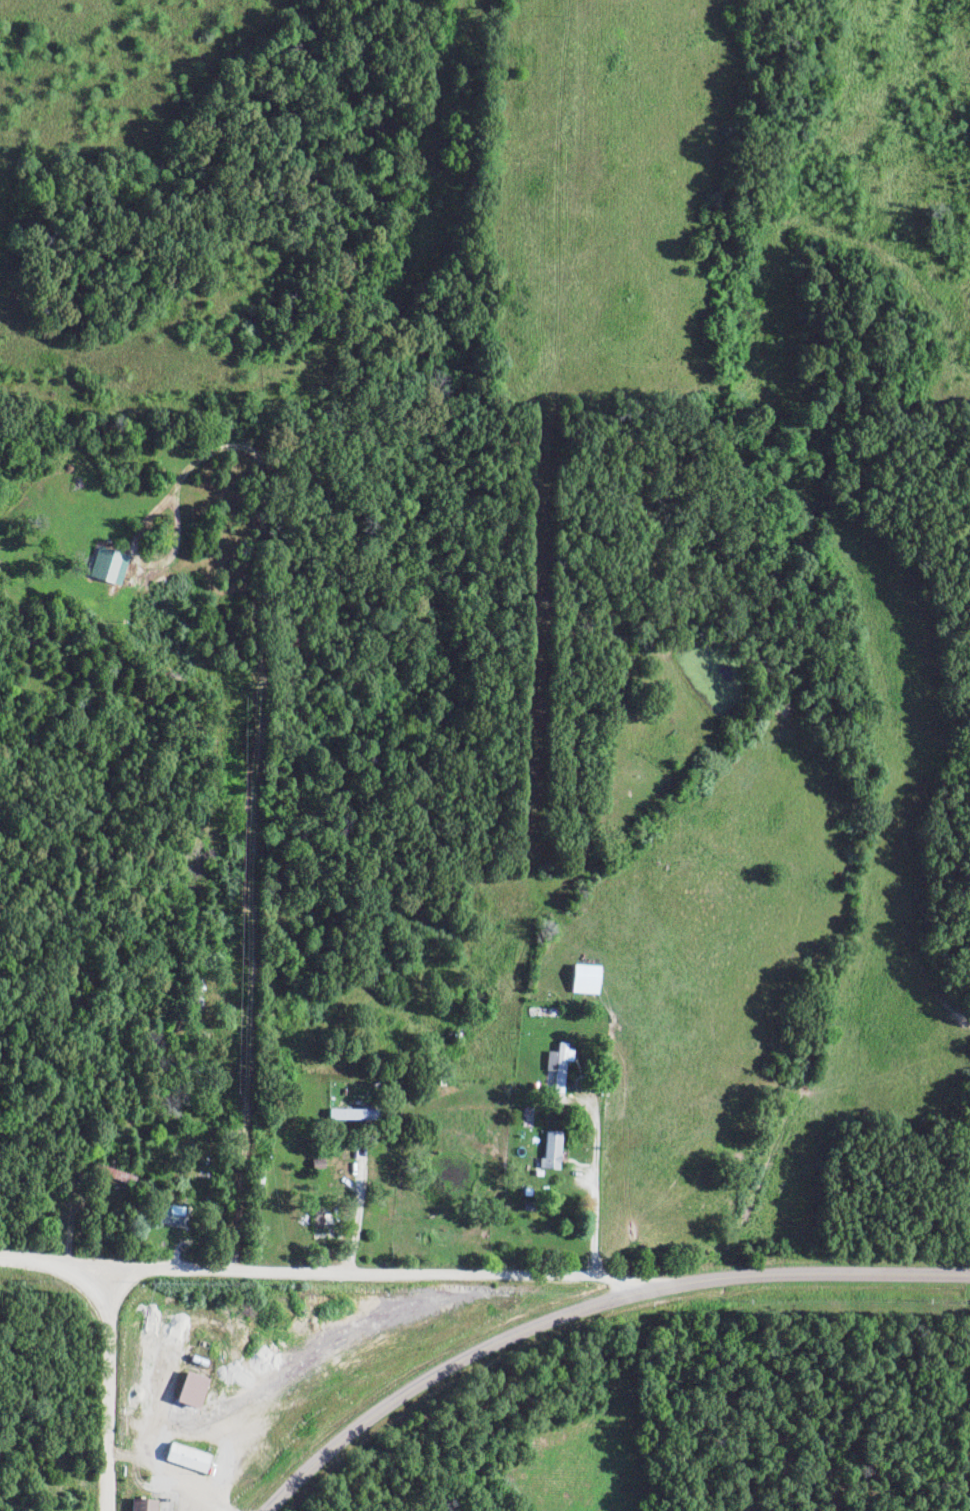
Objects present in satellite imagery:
building: (108, 566)
building: (585, 980)
building: (559, 1066)
building: (353, 1115)
building: (551, 1152)
road: (593, 1199)
building: (172, 1215)
building: (322, 1225)
road: (324, 1273)
road: (586, 1306)
road: (107, 1388)
building: (191, 1389)
building: (187, 1457)
building: (142, 1504)

